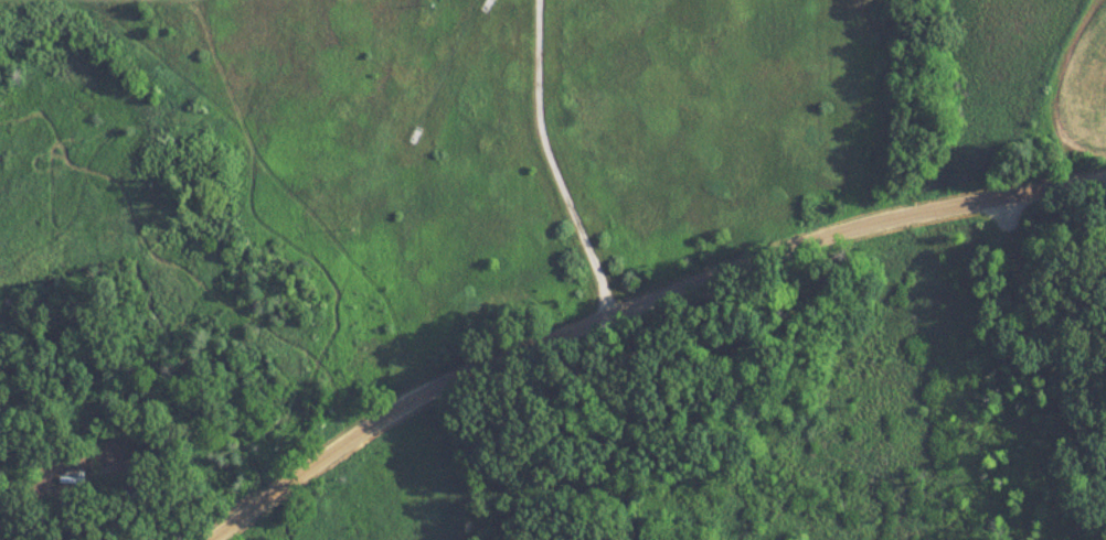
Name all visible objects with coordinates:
road: (551, 162)
parking lot: (999, 210)
road: (635, 307)
road: (1047, 354)
park: (806, 408)

